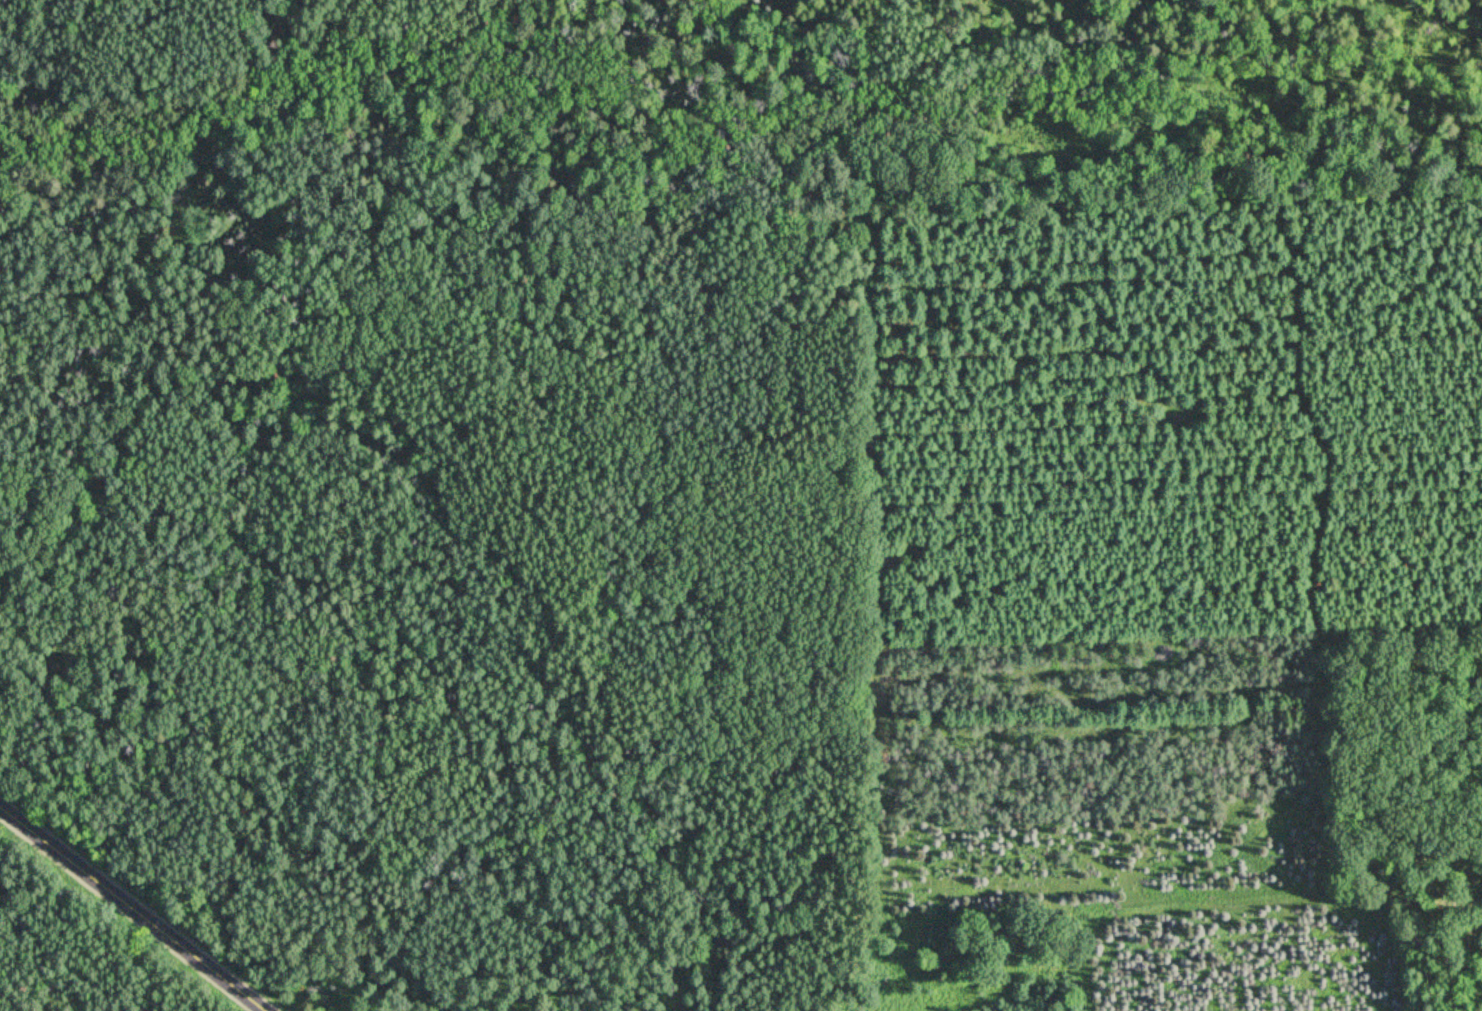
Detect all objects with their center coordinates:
park: (427, 505)
road: (135, 906)

